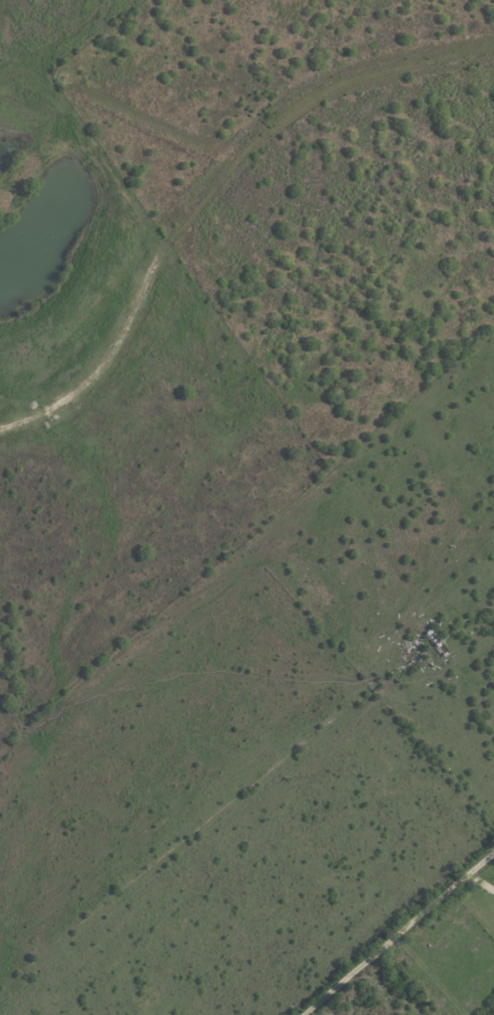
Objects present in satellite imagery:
road: (484, 876)
road: (395, 932)

